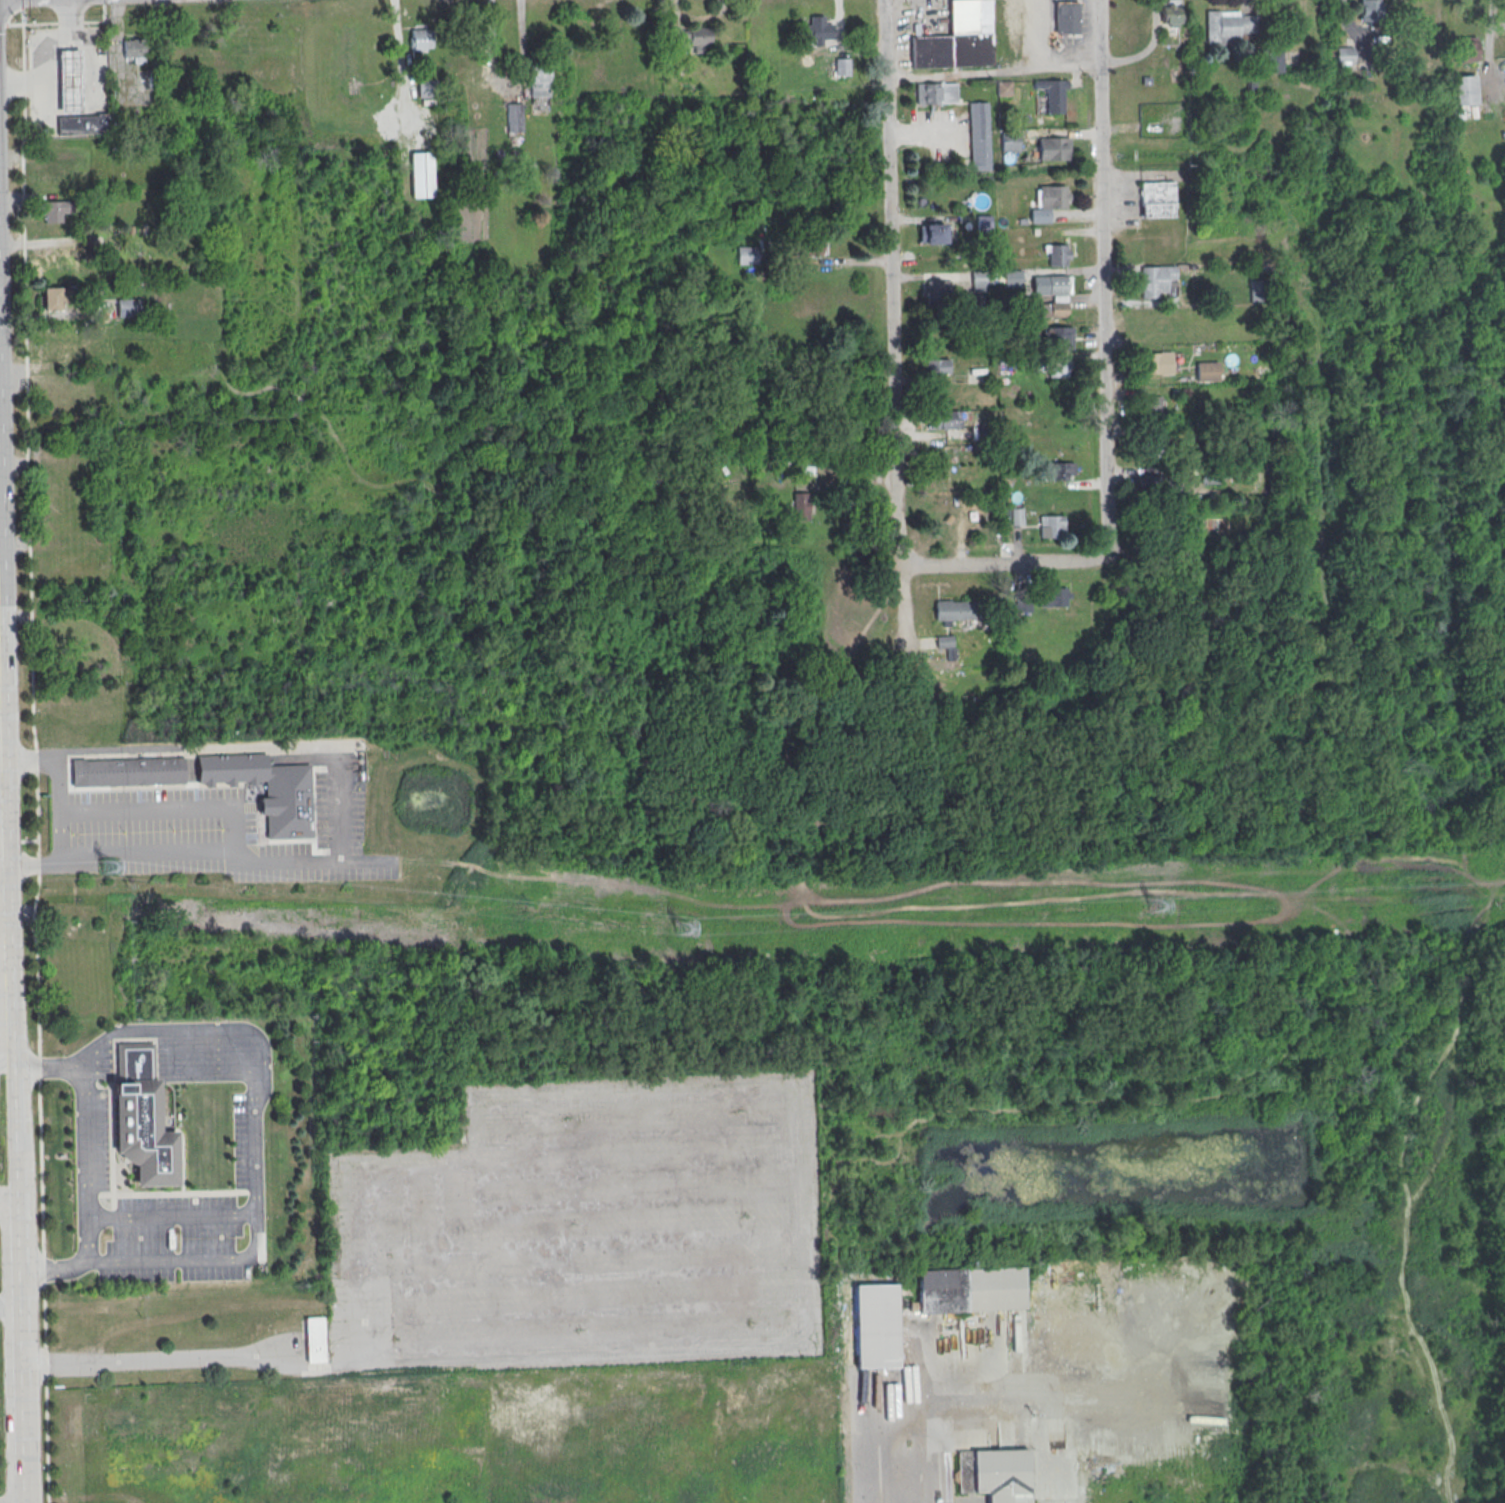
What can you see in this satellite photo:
road: (21, 4)
building: (1369, 10)
road: (11, 12)
building: (1171, 12)
building: (1066, 16)
road: (102, 21)
road: (30, 22)
road: (69, 22)
road: (3, 24)
building: (1227, 27)
building: (818, 30)
building: (691, 37)
building: (958, 39)
building: (419, 41)
road: (1057, 43)
building: (134, 49)
building: (1467, 50)
building: (1345, 55)
road: (47, 56)
building: (1274, 61)
building: (68, 80)
building: (539, 80)
building: (427, 88)
building: (1004, 88)
building: (1462, 91)
building: (936, 92)
building: (1053, 94)
building: (514, 117)
building: (83, 123)
building: (979, 135)
building: (1009, 141)
building: (1054, 148)
building: (53, 170)
building: (421, 174)
building: (1157, 199)
building: (1049, 202)
building: (54, 211)
building: (983, 221)
building: (932, 232)
road: (1323, 242)
building: (810, 247)
building: (1057, 254)
building: (56, 255)
building: (747, 255)
road: (1102, 276)
building: (979, 278)
building: (1013, 278)
building: (1156, 279)
building: (1049, 284)
building: (937, 290)
building: (1259, 290)
building: (52, 297)
building: (127, 307)
building: (1053, 308)
road: (891, 325)
building: (1059, 338)
building: (56, 344)
building: (106, 355)
building: (1157, 363)
building: (937, 365)
building: (1060, 367)
building: (1207, 370)
road: (25, 377)
building: (56, 400)
building: (1152, 406)
building: (944, 419)
building: (1059, 470)
building: (1160, 485)
building: (965, 505)
building: (800, 506)
building: (1017, 515)
building: (941, 525)
building: (1051, 526)
building: (1153, 538)
road: (1001, 562)
building: (1054, 597)
building: (1023, 604)
building: (955, 608)
building: (946, 644)
road: (1303, 684)
road: (839, 749)
road: (36, 760)
building: (126, 770)
road: (1457, 770)
road: (798, 781)
building: (266, 787)
road: (57, 812)
road: (37, 813)
road: (229, 821)
road: (308, 862)
road: (38, 864)
power tower: (109, 864)
road: (1440, 866)
road: (1016, 875)
power tower: (1157, 903)
road: (465, 905)
road: (864, 909)
power tower: (683, 925)
road: (38, 964)
road: (1, 979)
road: (1, 1007)
road: (1, 1036)
road: (39, 1067)
road: (797, 1110)
building: (141, 1115)
road: (15, 1122)
road: (637, 1131)
road: (257, 1137)
road: (86, 1158)
road: (41, 1166)
road: (637, 1166)
road: (10, 1204)
road: (578, 1204)
parking lot: (585, 1228)
road: (579, 1247)
road: (43, 1267)
road: (580, 1276)
building: (971, 1287)
road: (9, 1305)
road: (581, 1310)
building: (875, 1323)
road: (359, 1336)
building: (315, 1339)
road: (189, 1357)
road: (20, 1358)
road: (45, 1393)
road: (924, 1455)
building: (994, 1473)
road: (21, 1498)

